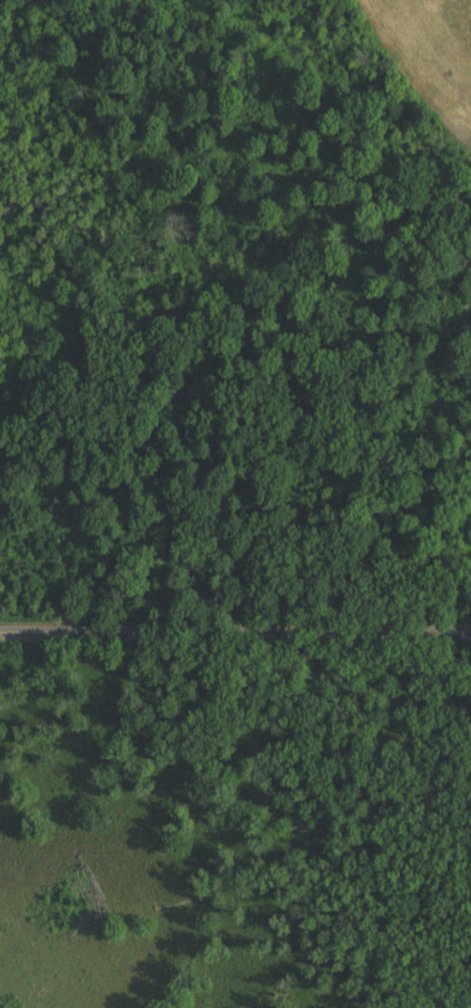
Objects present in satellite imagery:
road: (235, 636)

